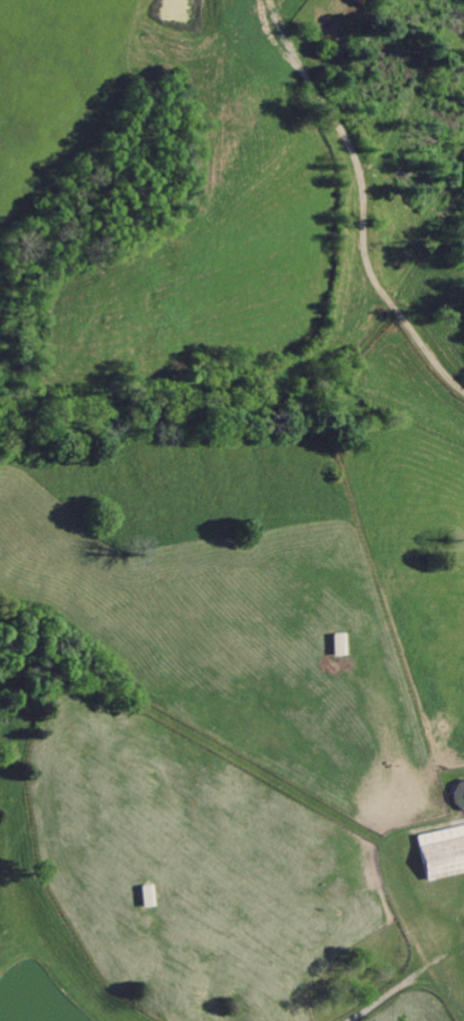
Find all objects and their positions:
building: (444, 851)
building: (150, 894)

